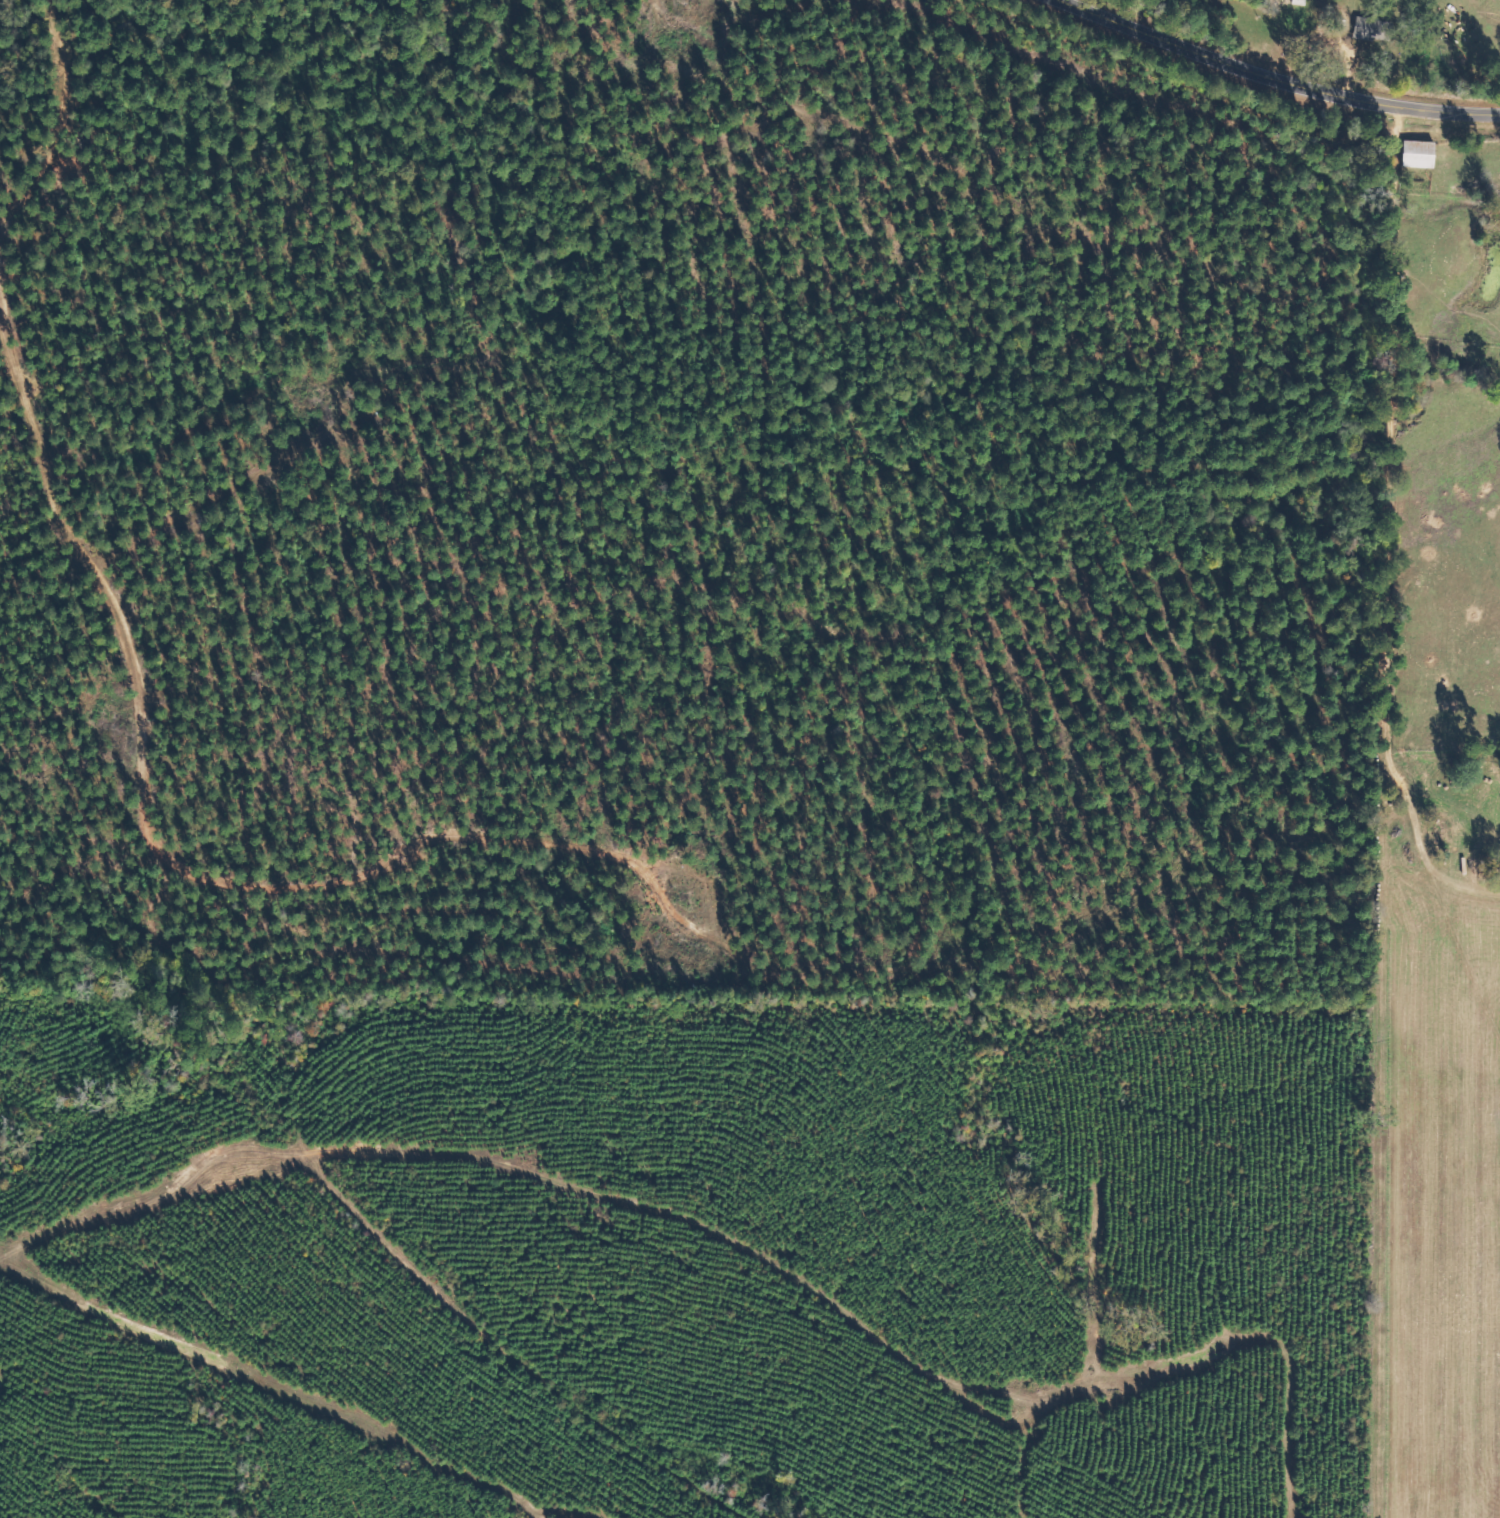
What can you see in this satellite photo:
road: (1276, 78)
building: (1422, 153)
road: (1401, 438)

